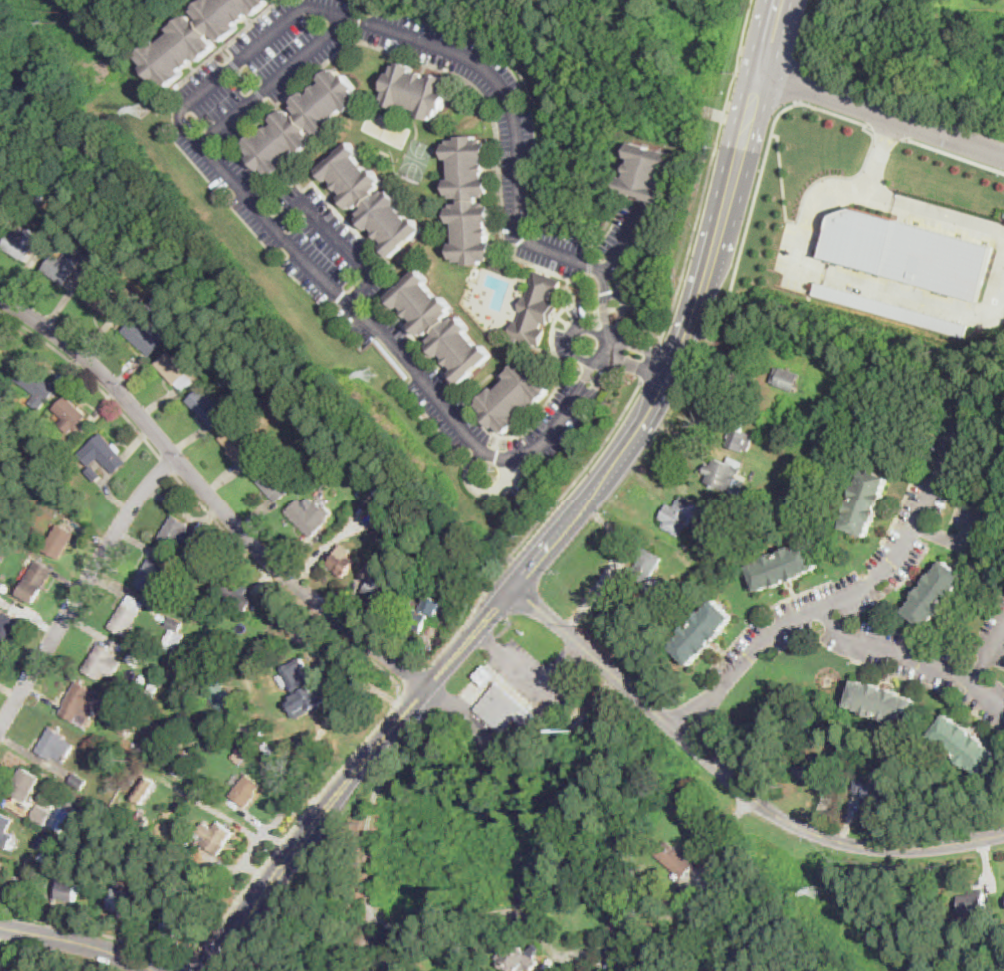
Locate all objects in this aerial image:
road: (761, 35)
road: (776, 35)
building: (196, 37)
road: (272, 82)
building: (418, 90)
power tower: (143, 110)
road: (882, 111)
road: (182, 115)
road: (847, 116)
building: (301, 122)
road: (886, 130)
road: (955, 153)
road: (881, 154)
building: (648, 172)
road: (710, 172)
building: (41, 194)
building: (370, 199)
building: (472, 199)
road: (936, 213)
road: (337, 237)
building: (22, 243)
building: (908, 251)
building: (75, 261)
road: (614, 272)
road: (858, 282)
building: (127, 297)
building: (101, 300)
building: (890, 308)
building: (538, 309)
building: (439, 325)
road: (573, 335)
building: (146, 336)
building: (1, 345)
road: (678, 350)
road: (642, 358)
road: (653, 362)
building: (175, 371)
road: (87, 375)
power tower: (369, 375)
building: (785, 378)
building: (37, 386)
building: (515, 396)
building: (285, 405)
building: (209, 407)
building: (815, 411)
building: (70, 414)
building: (799, 432)
building: (740, 438)
building: (238, 444)
building: (103, 452)
building: (324, 457)
road: (167, 465)
building: (94, 474)
building: (726, 474)
road: (580, 477)
building: (275, 481)
building: (836, 489)
road: (210, 496)
building: (0, 497)
building: (813, 497)
building: (865, 504)
building: (380, 505)
building: (807, 512)
building: (822, 516)
building: (311, 518)
building: (686, 519)
building: (378, 534)
building: (182, 537)
building: (401, 542)
building: (60, 543)
road: (962, 546)
building: (342, 565)
road: (612, 567)
building: (783, 569)
building: (643, 570)
building: (216, 573)
building: (151, 577)
road: (274, 582)
building: (36, 583)
building: (668, 586)
building: (5, 590)
road: (85, 590)
building: (380, 594)
building: (236, 595)
building: (936, 596)
road: (831, 605)
power tower: (570, 606)
building: (423, 616)
building: (127, 617)
road: (472, 621)
building: (9, 630)
building: (702, 634)
building: (174, 636)
building: (166, 648)
road: (911, 658)
road: (988, 658)
building: (133, 661)
building: (102, 663)
road: (531, 677)
building: (300, 678)
building: (486, 678)
building: (142, 681)
road: (416, 682)
building: (153, 689)
building: (218, 693)
building: (144, 695)
building: (81, 703)
building: (596, 703)
building: (882, 705)
building: (509, 714)
building: (123, 726)
building: (582, 726)
road: (497, 739)
building: (56, 747)
building: (966, 747)
building: (240, 758)
building: (127, 759)
building: (184, 763)
building: (815, 770)
road: (355, 775)
road: (732, 782)
building: (78, 783)
building: (26, 786)
building: (859, 788)
building: (143, 791)
building: (246, 792)
building: (878, 796)
building: (91, 815)
building: (43, 816)
building: (137, 817)
road: (299, 821)
road: (369, 822)
building: (144, 823)
building: (6, 832)
building: (167, 839)
building: (217, 841)
road: (255, 849)
building: (43, 860)
building: (675, 860)
building: (1, 867)
building: (172, 887)
power tower: (816, 891)
building: (69, 892)
building: (123, 903)
building: (602, 903)
building: (973, 906)
road: (668, 917)
building: (180, 925)
building: (625, 928)
road: (91, 935)
road: (76, 944)
building: (990, 952)
building: (517, 959)
building: (551, 965)
road: (186, 969)
road: (178, 970)

